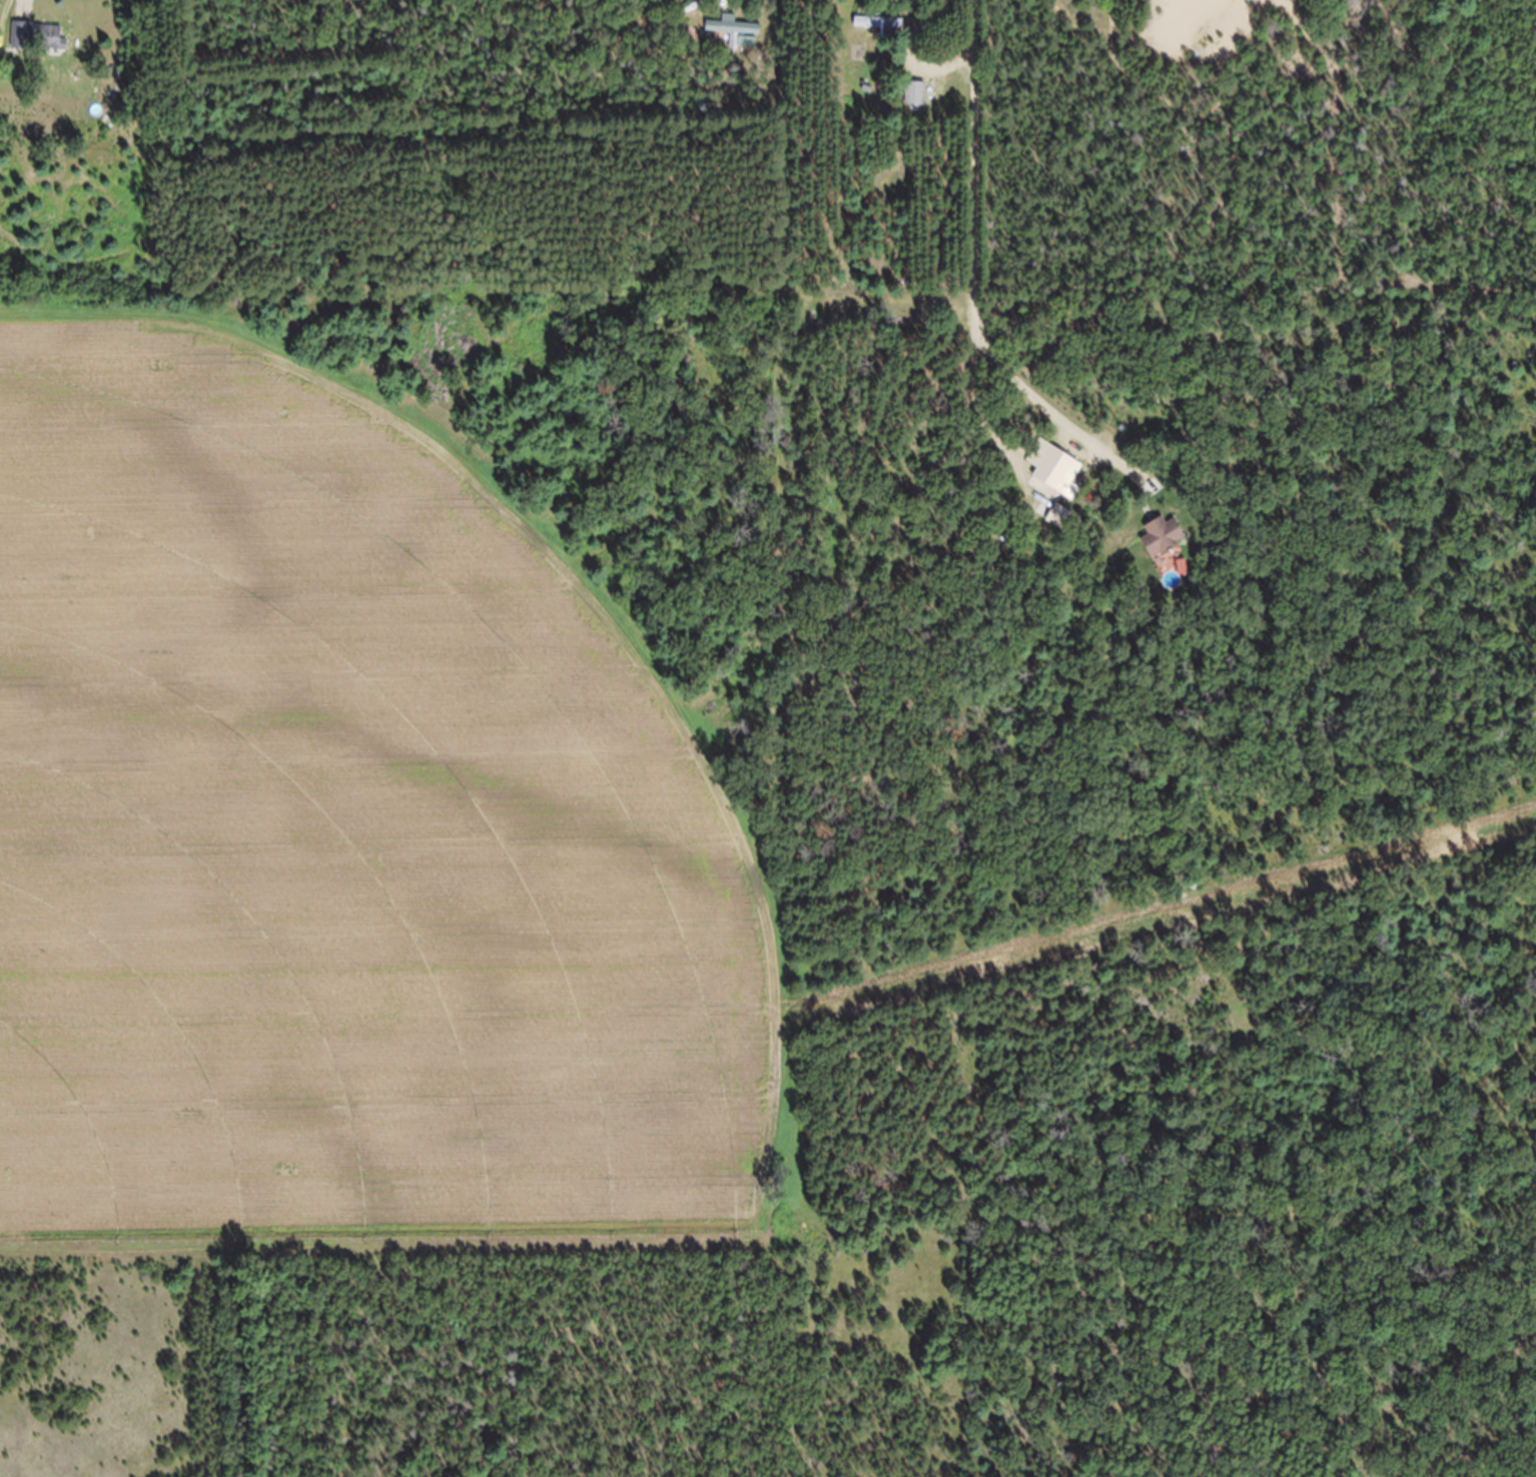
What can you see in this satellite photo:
building: (700, 0)
road: (20, 1)
building: (881, 34)
building: (738, 43)
building: (39, 48)
building: (917, 106)
building: (1061, 484)
building: (1164, 548)

